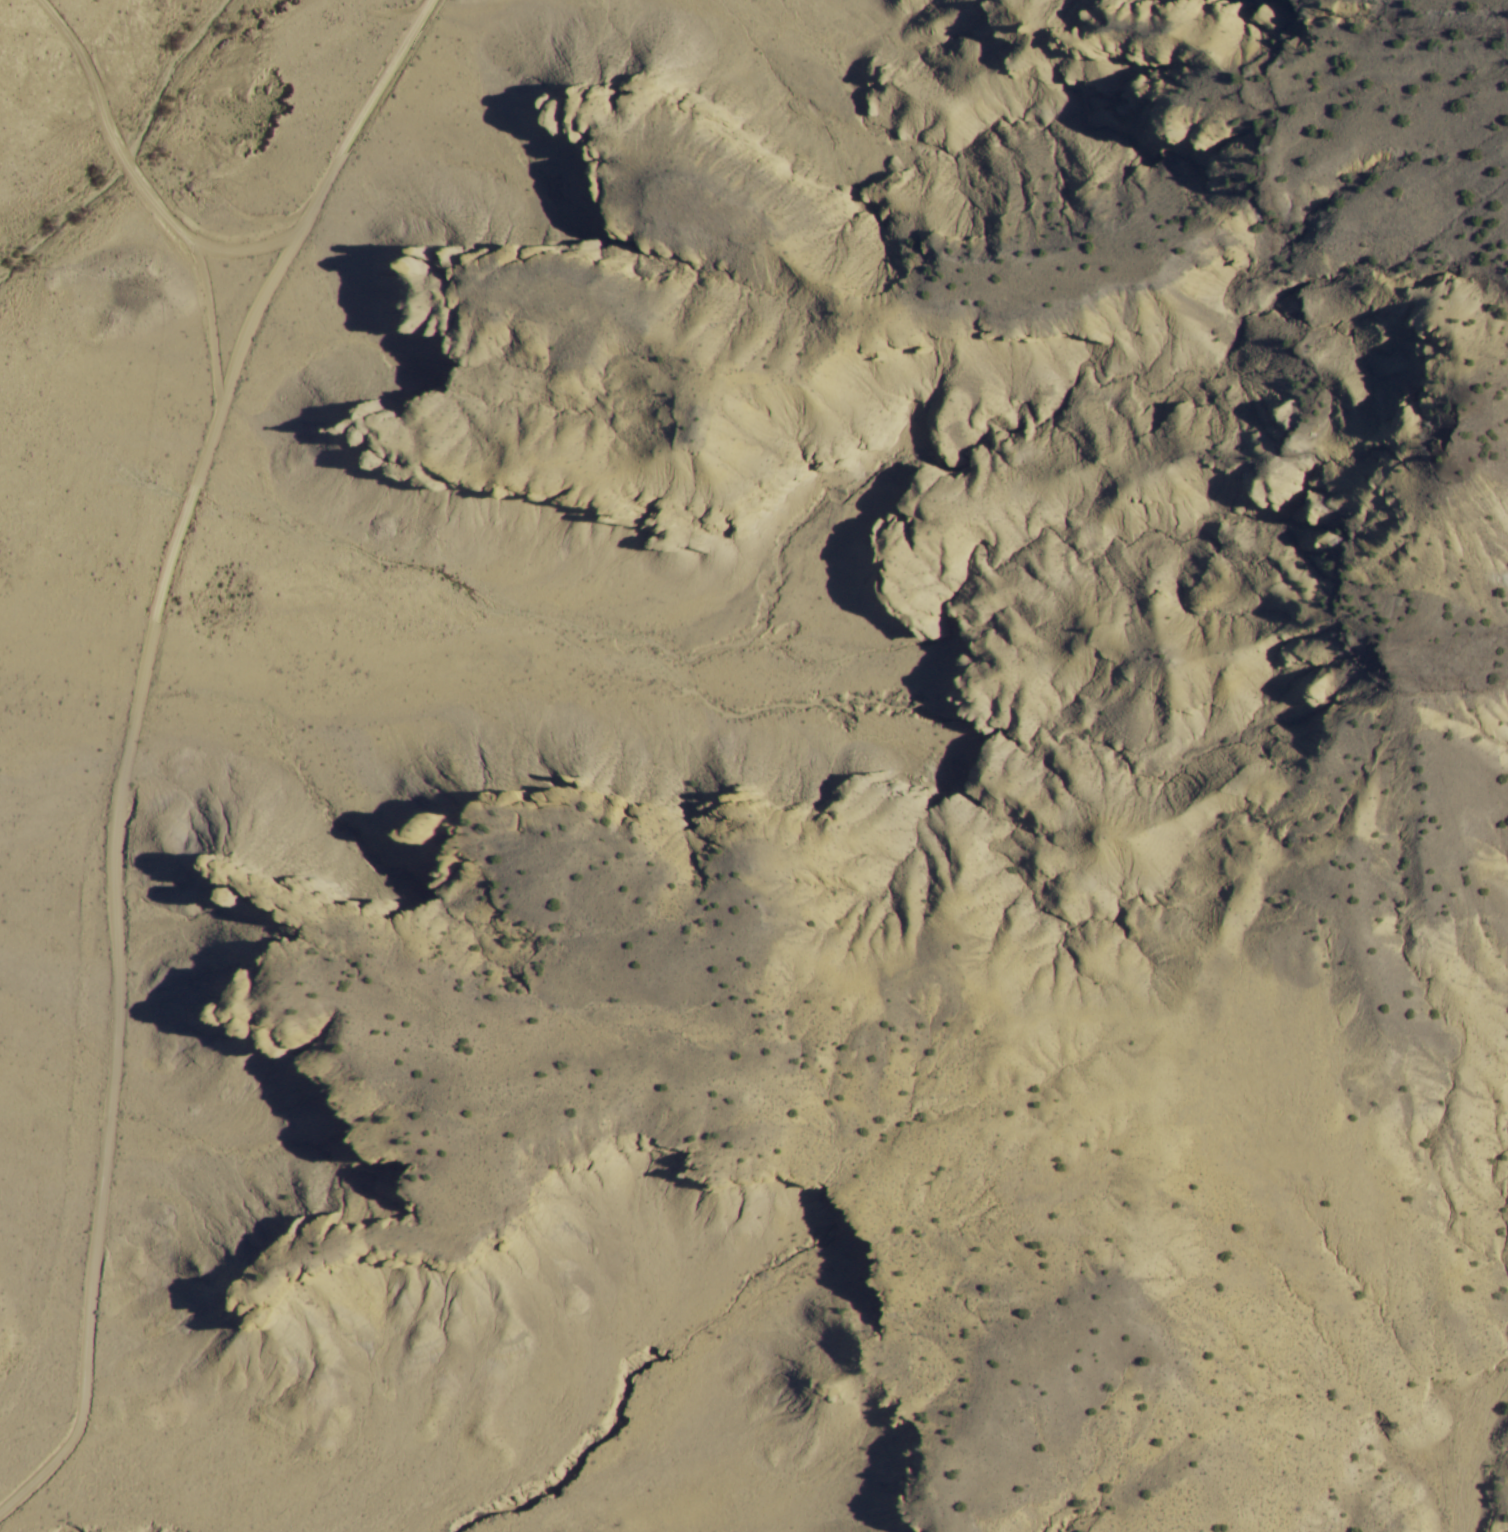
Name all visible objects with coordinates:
road: (136, 173)
road: (207, 330)
road: (134, 740)

